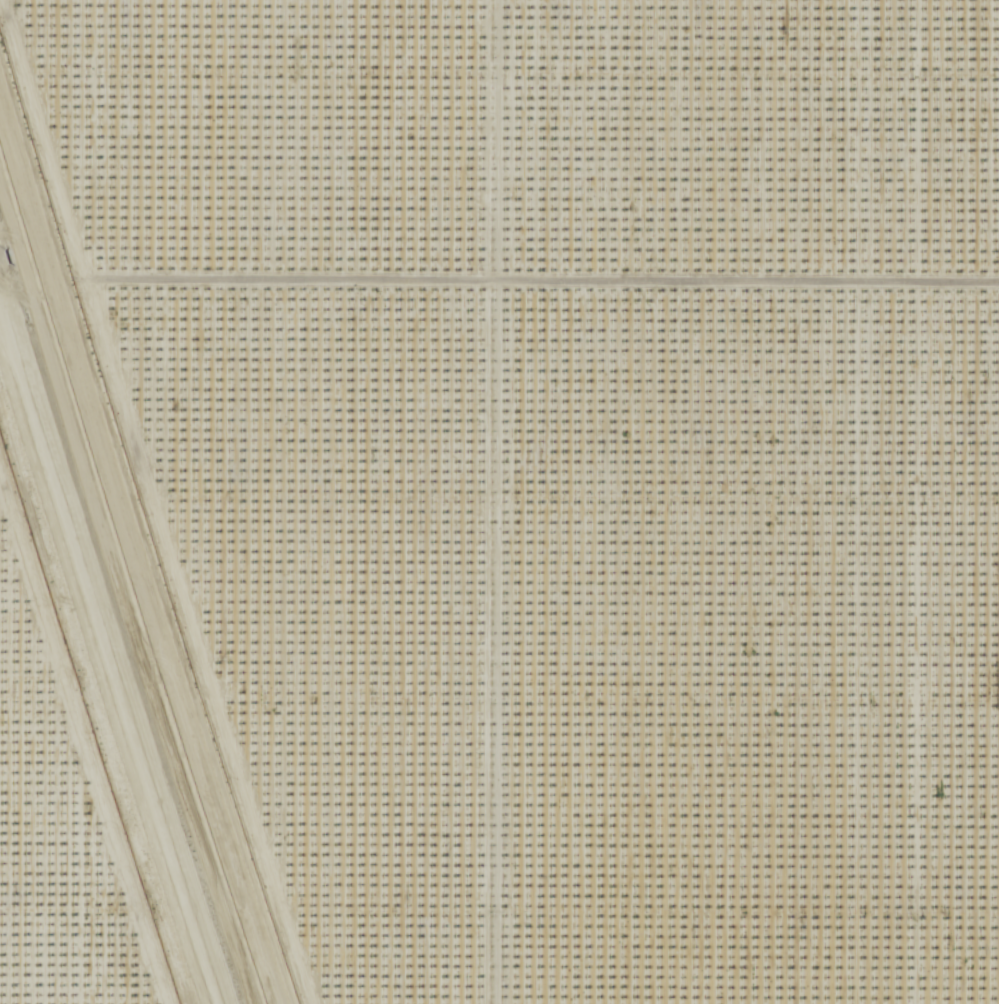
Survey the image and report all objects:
road: (540, 284)
railway: (110, 661)
railway: (105, 676)

